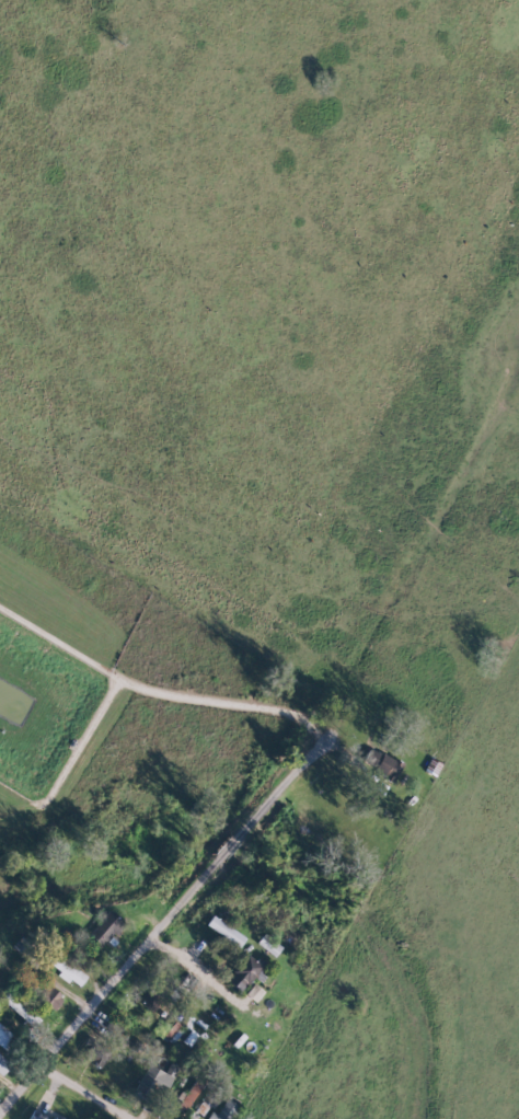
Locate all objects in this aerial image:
road: (154, 697)
building: (379, 764)
road: (169, 915)
building: (102, 928)
building: (222, 931)
building: (265, 945)
road: (196, 968)
building: (65, 971)
building: (241, 972)
building: (251, 993)
building: (47, 997)
building: (147, 1003)
building: (18, 1010)
building: (166, 1030)
building: (3, 1037)
building: (91, 1058)
building: (2, 1064)
building: (152, 1082)
road: (95, 1088)
building: (186, 1095)
building: (199, 1108)
building: (221, 1110)
building: (34, 1116)

